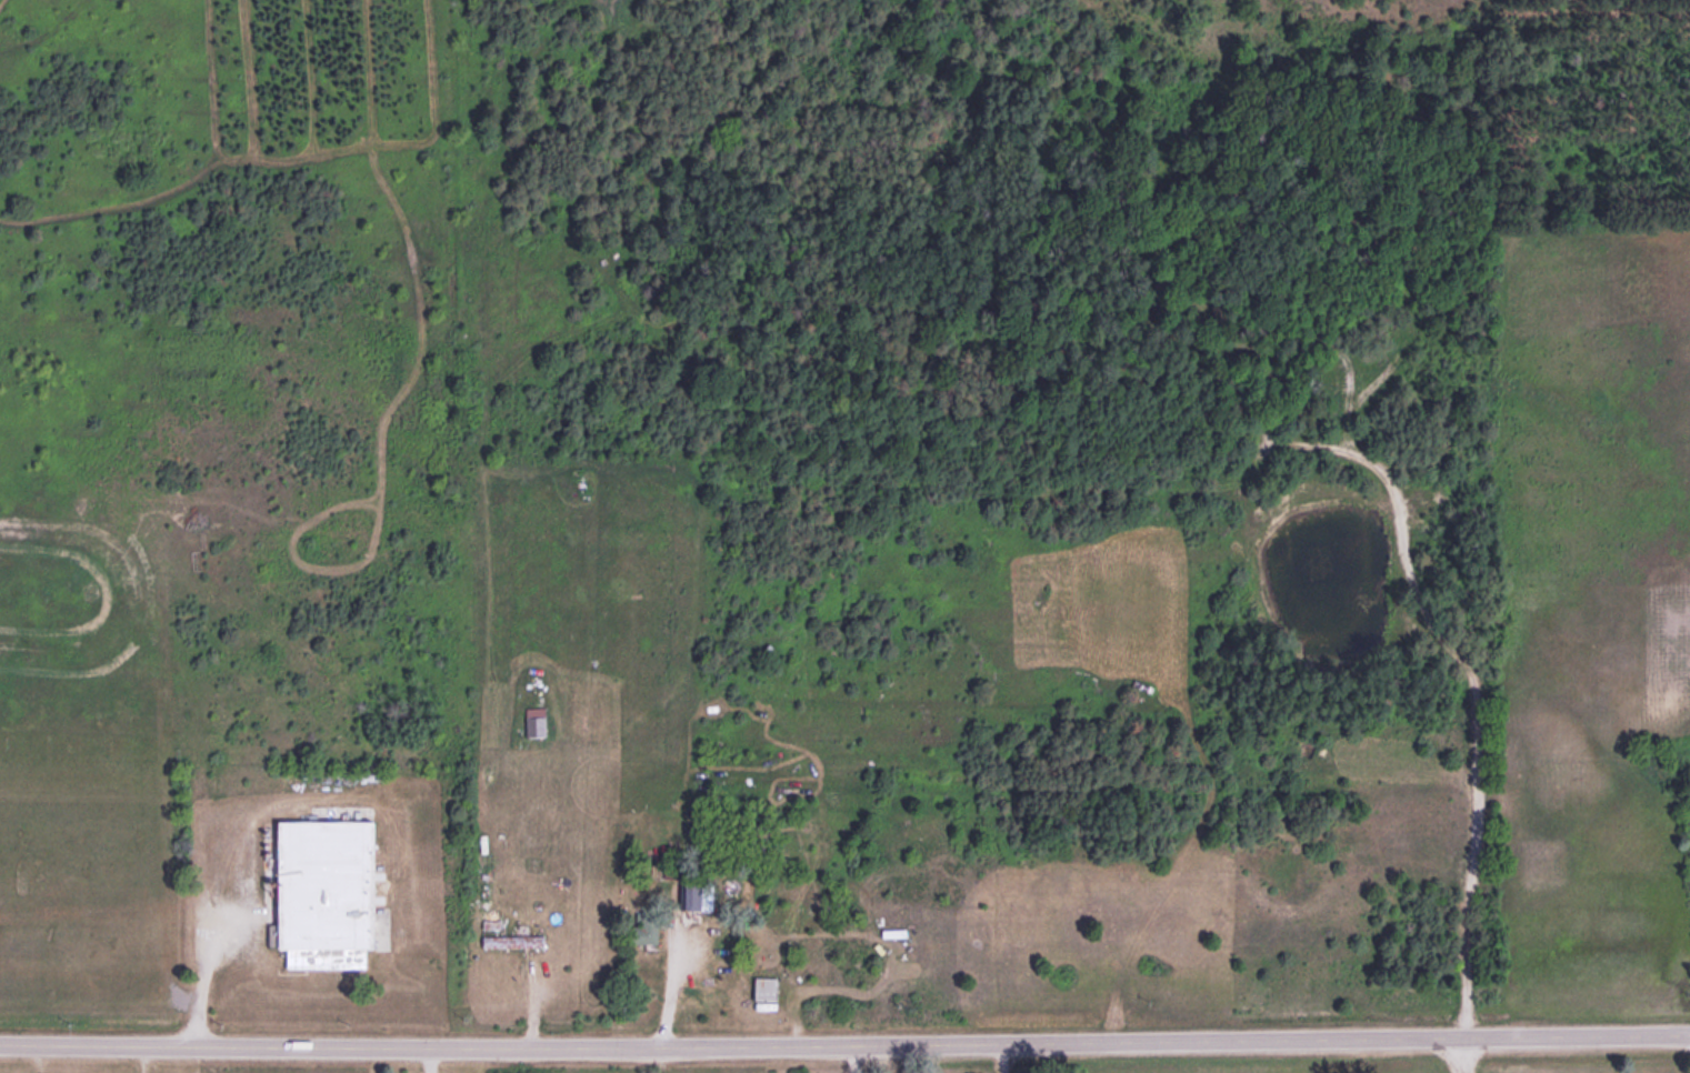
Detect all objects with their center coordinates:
building: (329, 890)
building: (688, 914)
building: (646, 926)
building: (768, 987)
road: (1074, 1041)
road: (230, 1044)

